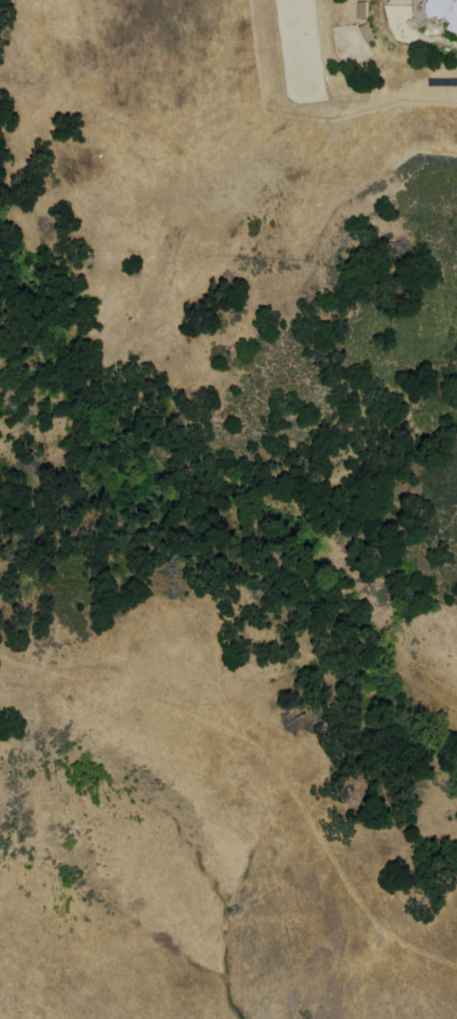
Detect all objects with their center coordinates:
building: (363, 11)
building: (443, 14)
building: (366, 34)

